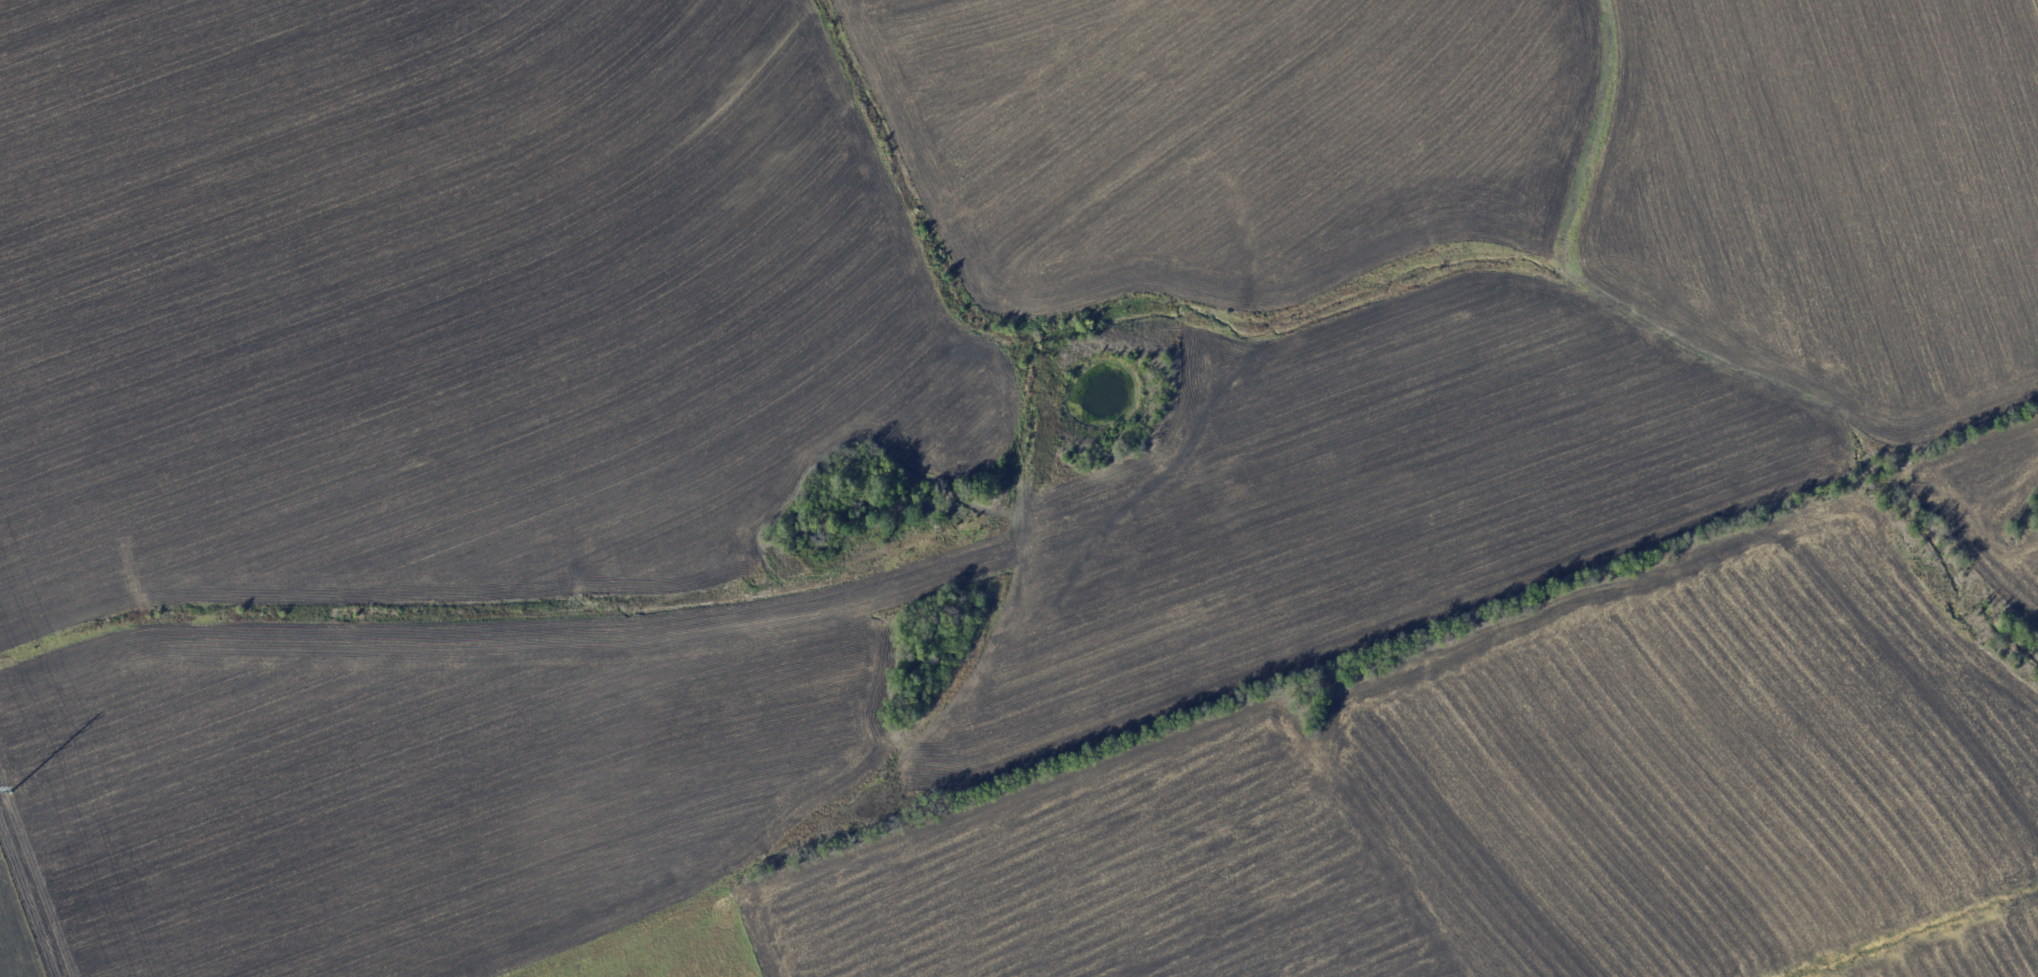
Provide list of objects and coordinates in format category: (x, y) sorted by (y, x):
power tower: (10, 794)

